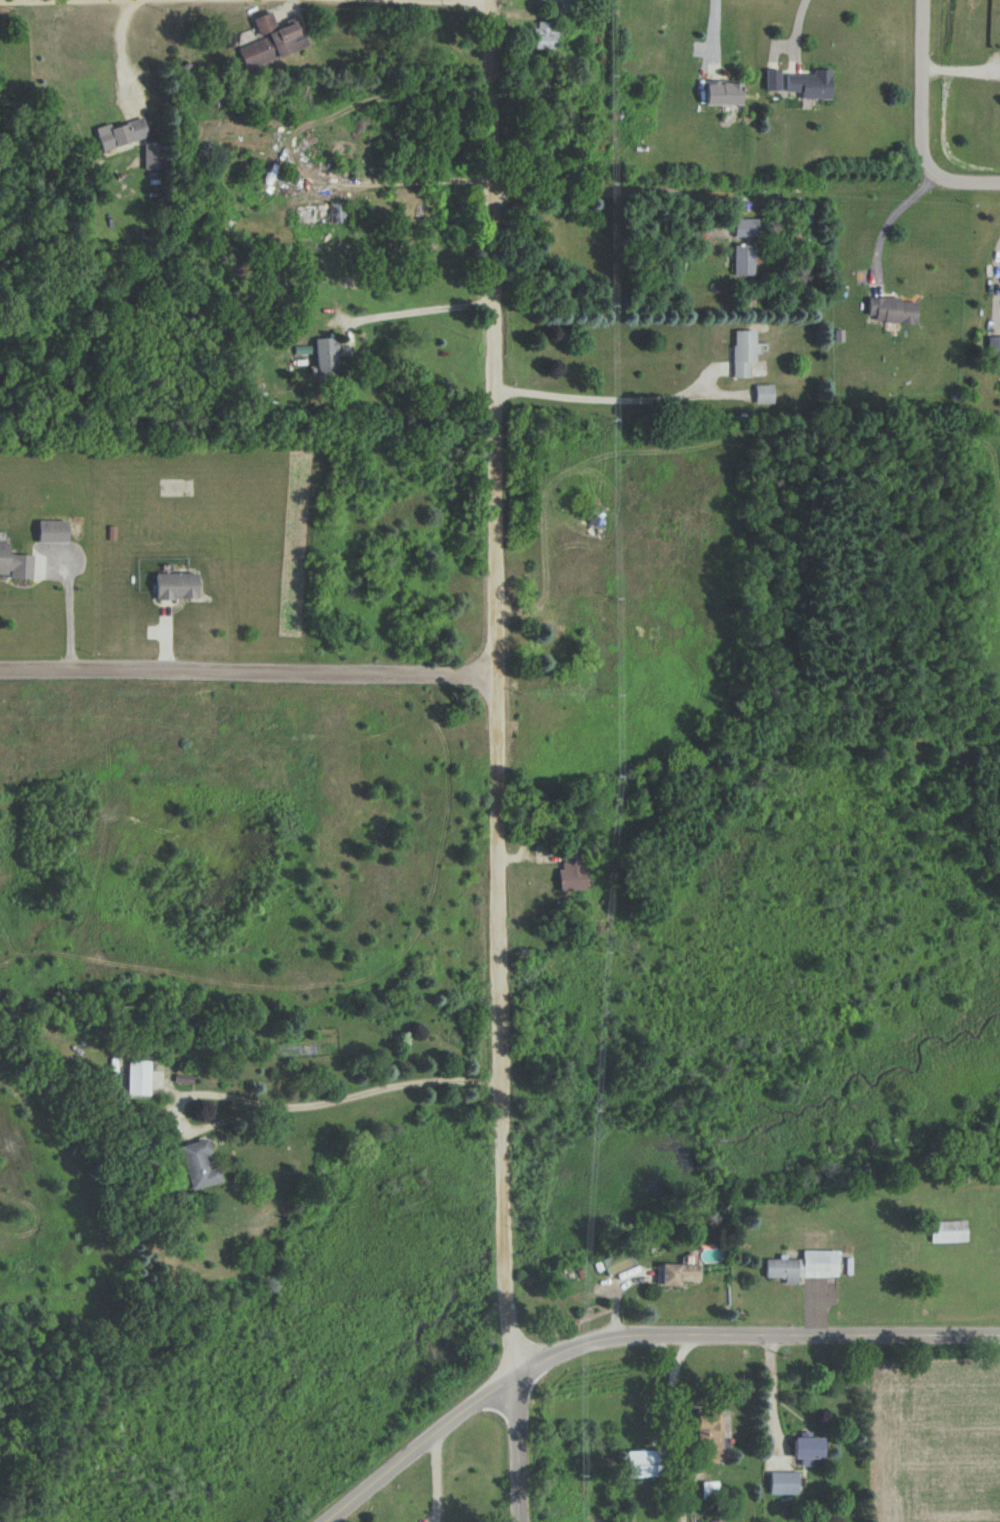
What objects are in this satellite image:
road: (138, 0)
road: (711, 31)
building: (543, 34)
building: (271, 40)
road: (121, 52)
building: (799, 83)
building: (721, 92)
road: (921, 123)
building: (119, 133)
building: (150, 153)
road: (622, 189)
road: (894, 216)
building: (743, 227)
building: (742, 260)
road: (987, 272)
building: (892, 310)
road: (417, 311)
building: (993, 348)
building: (741, 352)
building: (762, 393)
road: (598, 398)
building: (51, 531)
building: (14, 563)
building: (175, 586)
road: (68, 613)
road: (247, 670)
road: (495, 688)
building: (571, 869)
building: (138, 1077)
road: (324, 1103)
building: (198, 1164)
building: (946, 1231)
building: (614, 1262)
building: (801, 1266)
building: (676, 1273)
road: (637, 1339)
road: (770, 1392)
building: (707, 1434)
road: (519, 1449)
building: (806, 1449)
building: (639, 1463)
building: (782, 1483)
building: (708, 1489)
building: (715, 1521)

